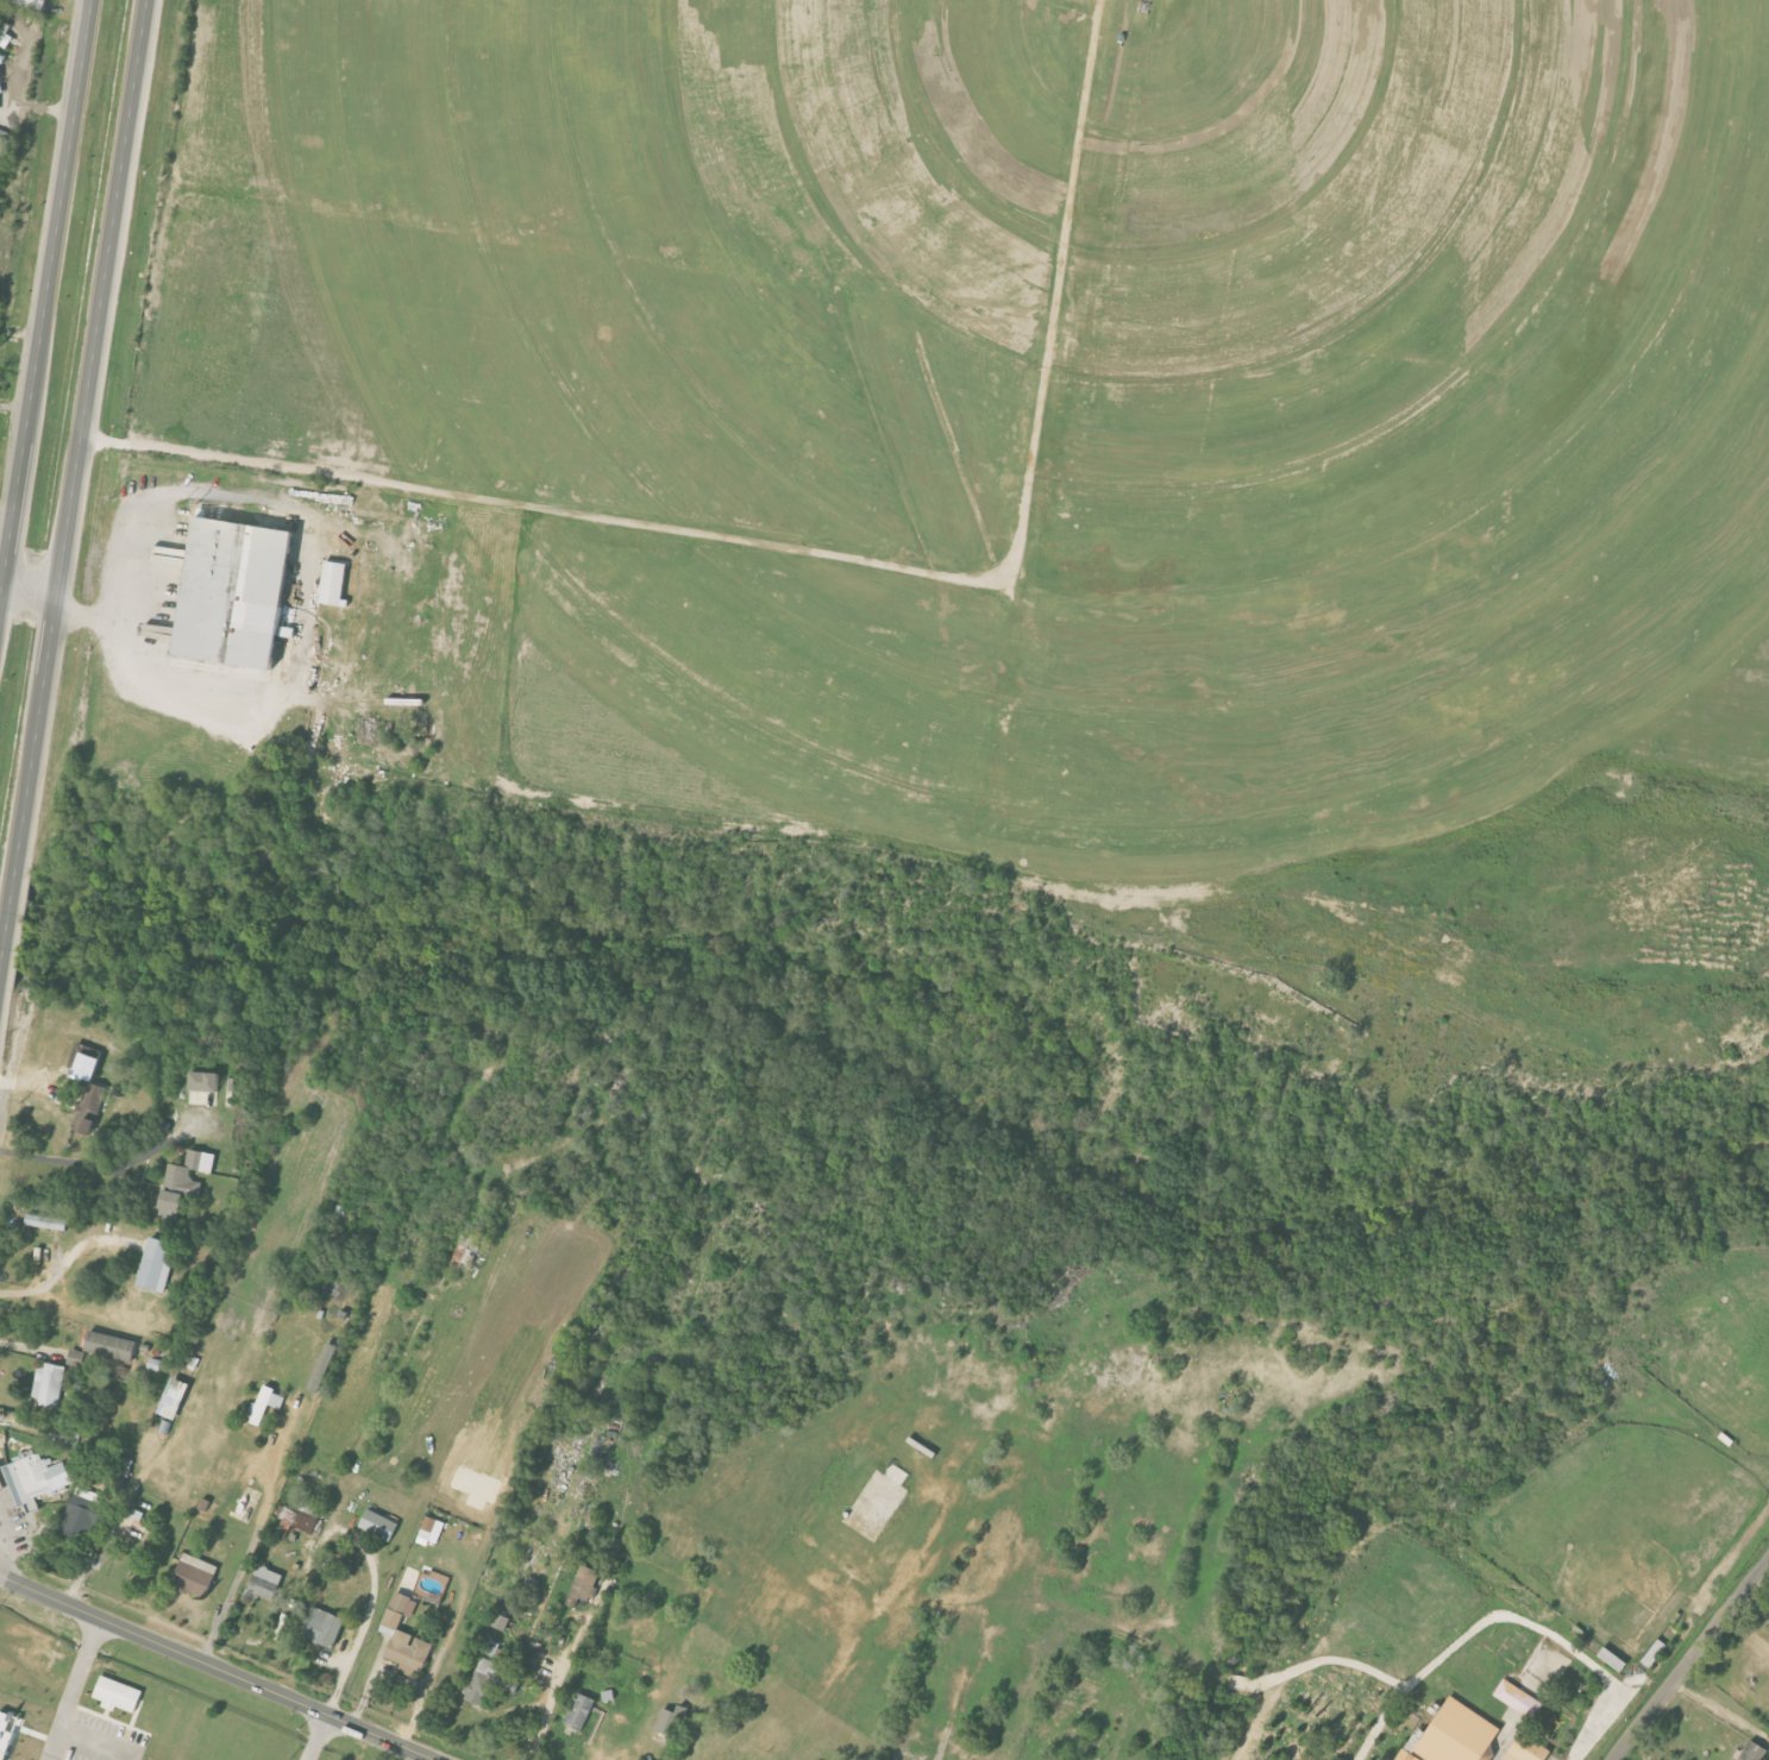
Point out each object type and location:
building: (32, 4)
building: (0, 75)
building: (5, 142)
road: (45, 300)
road: (80, 438)
road: (309, 535)
road: (833, 555)
building: (334, 584)
building: (236, 593)
road: (27, 597)
road: (7, 926)
building: (83, 1061)
building: (205, 1082)
building: (89, 1110)
road: (99, 1165)
building: (184, 1183)
building: (48, 1222)
building: (466, 1251)
road: (71, 1259)
building: (156, 1265)
building: (111, 1346)
building: (76, 1358)
building: (322, 1368)
building: (49, 1387)
building: (174, 1400)
building: (266, 1404)
building: (119, 1473)
building: (36, 1479)
building: (84, 1513)
building: (294, 1521)
building: (379, 1525)
building: (431, 1529)
road: (243, 1564)
building: (196, 1574)
building: (266, 1582)
building: (584, 1583)
road: (1757, 1598)
road: (369, 1604)
road: (1505, 1617)
building: (501, 1622)
building: (324, 1626)
road: (1748, 1627)
building: (647, 1632)
building: (404, 1639)
building: (493, 1647)
building: (1613, 1658)
road: (1688, 1658)
road: (218, 1667)
building: (490, 1680)
road: (75, 1689)
building: (118, 1693)
road: (556, 1695)
building: (1518, 1698)
road: (1723, 1705)
building: (579, 1710)
building: (672, 1720)
building: (1456, 1734)
road: (316, 1736)
building: (1529, 1749)
building: (1755, 1752)
building: (1406, 1755)

